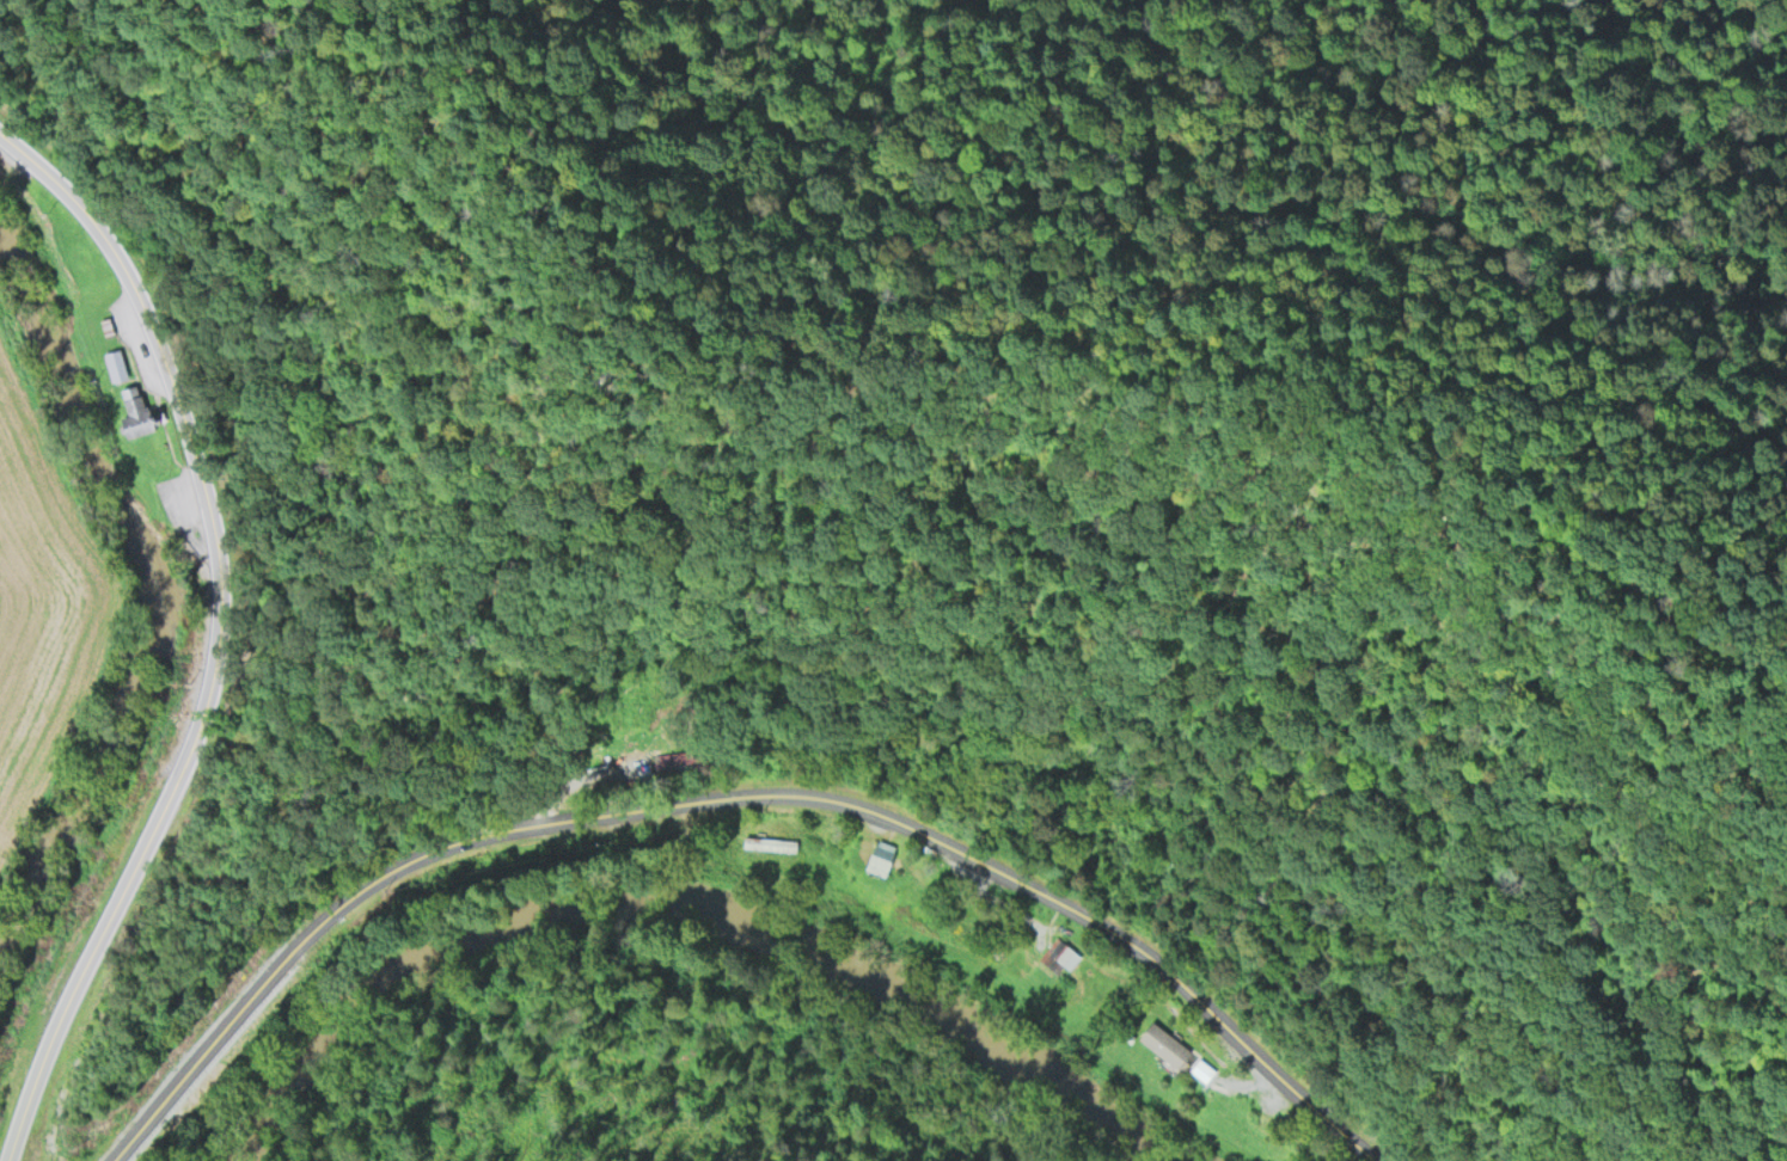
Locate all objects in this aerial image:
parking lot: (142, 342)
building: (117, 361)
building: (140, 412)
parking lot: (190, 506)
river: (143, 571)
crop: (48, 594)
road: (222, 633)
road: (734, 793)
building: (771, 841)
building: (882, 854)
river: (697, 891)
building: (1060, 951)
building: (1212, 1083)
building: (1243, 1107)

